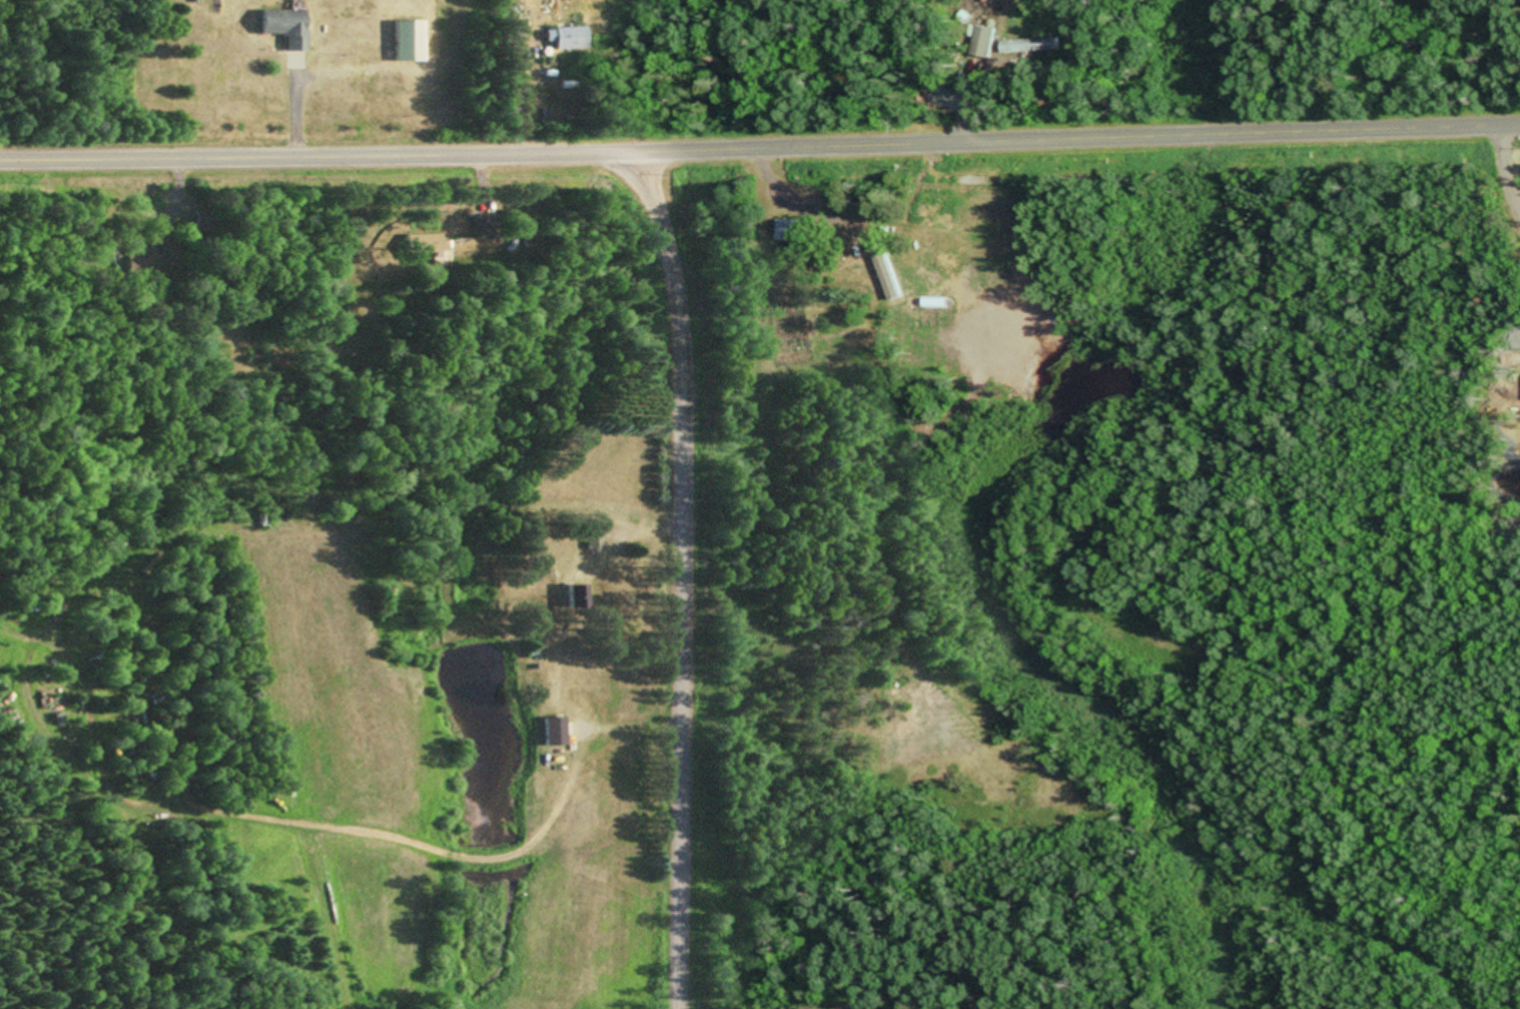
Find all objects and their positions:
building: (282, 28)
building: (564, 40)
building: (405, 42)
building: (981, 44)
building: (1029, 47)
road: (760, 149)
building: (925, 218)
building: (481, 227)
building: (786, 233)
building: (424, 249)
building: (861, 261)
building: (591, 538)
road: (686, 575)
building: (573, 598)
building: (550, 733)

